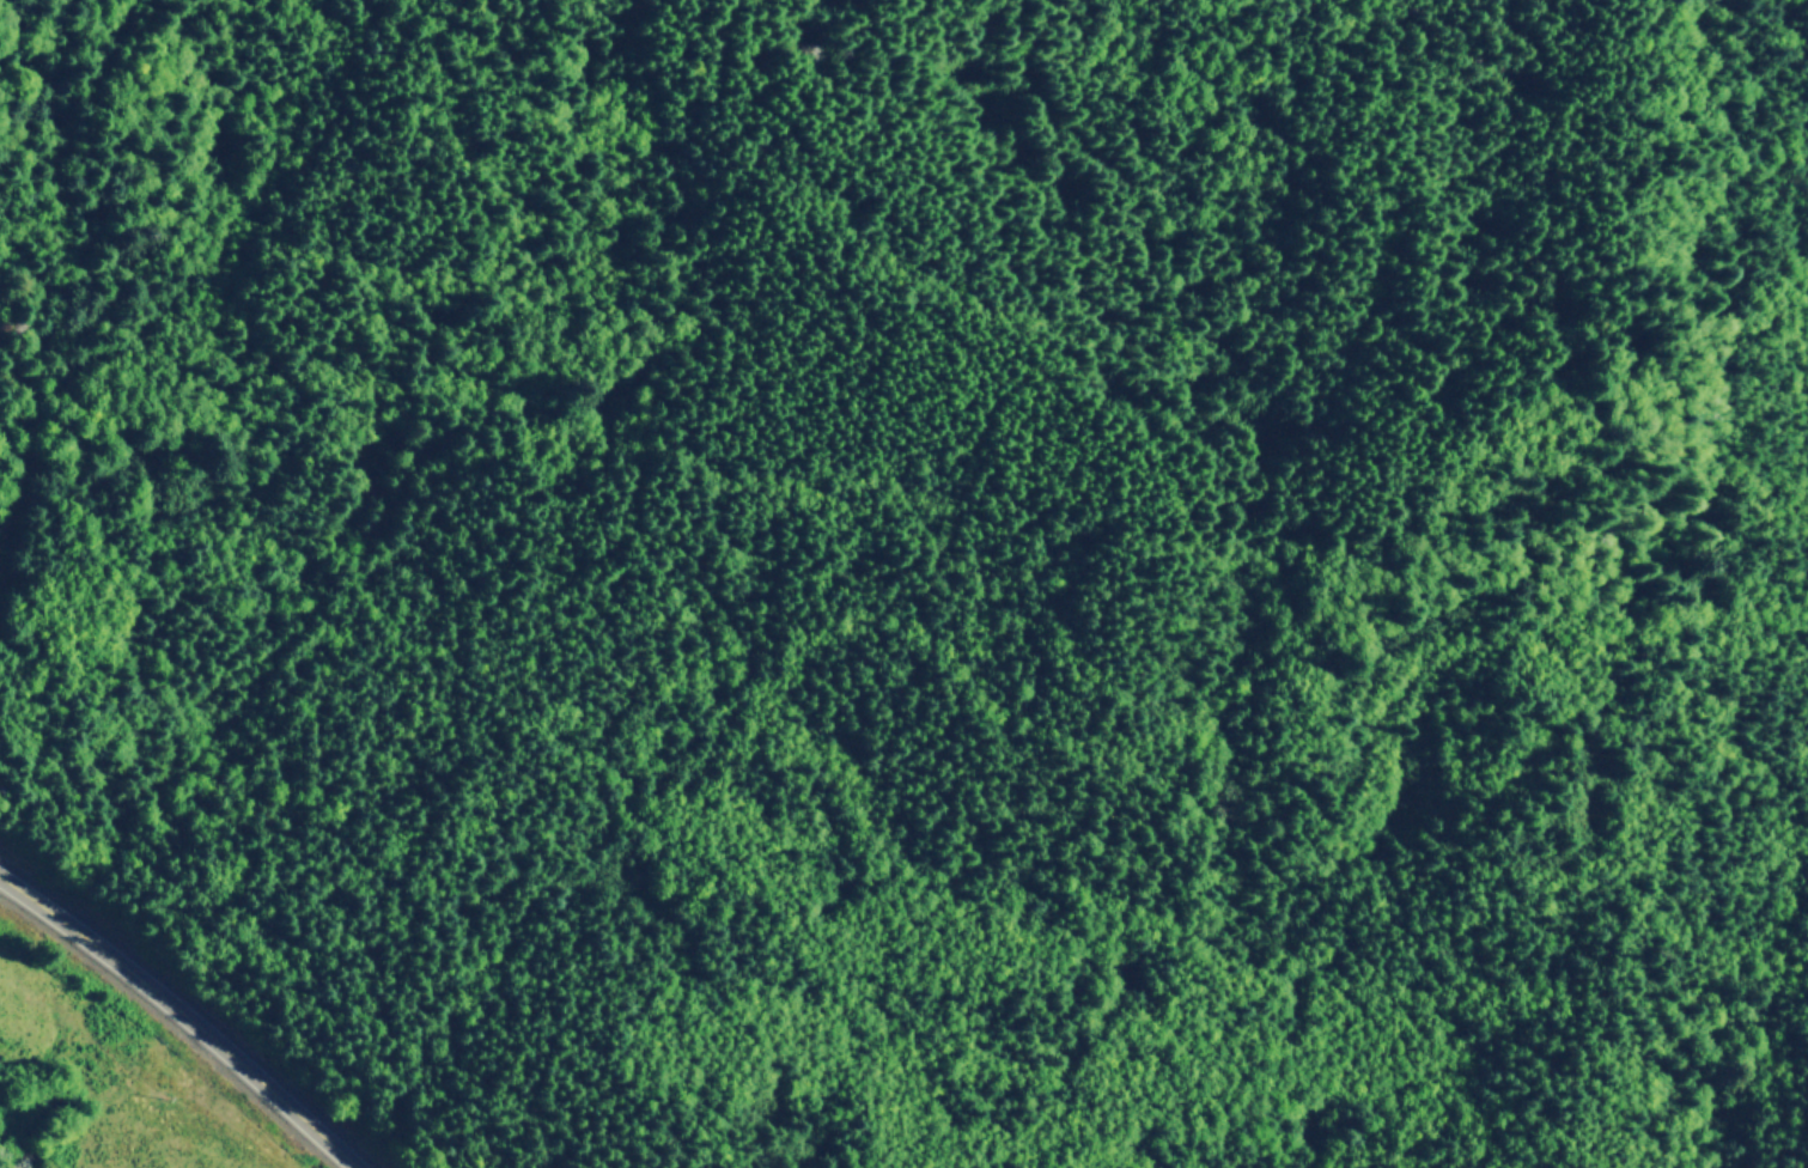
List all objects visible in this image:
road: (185, 1014)
road: (330, 1158)

